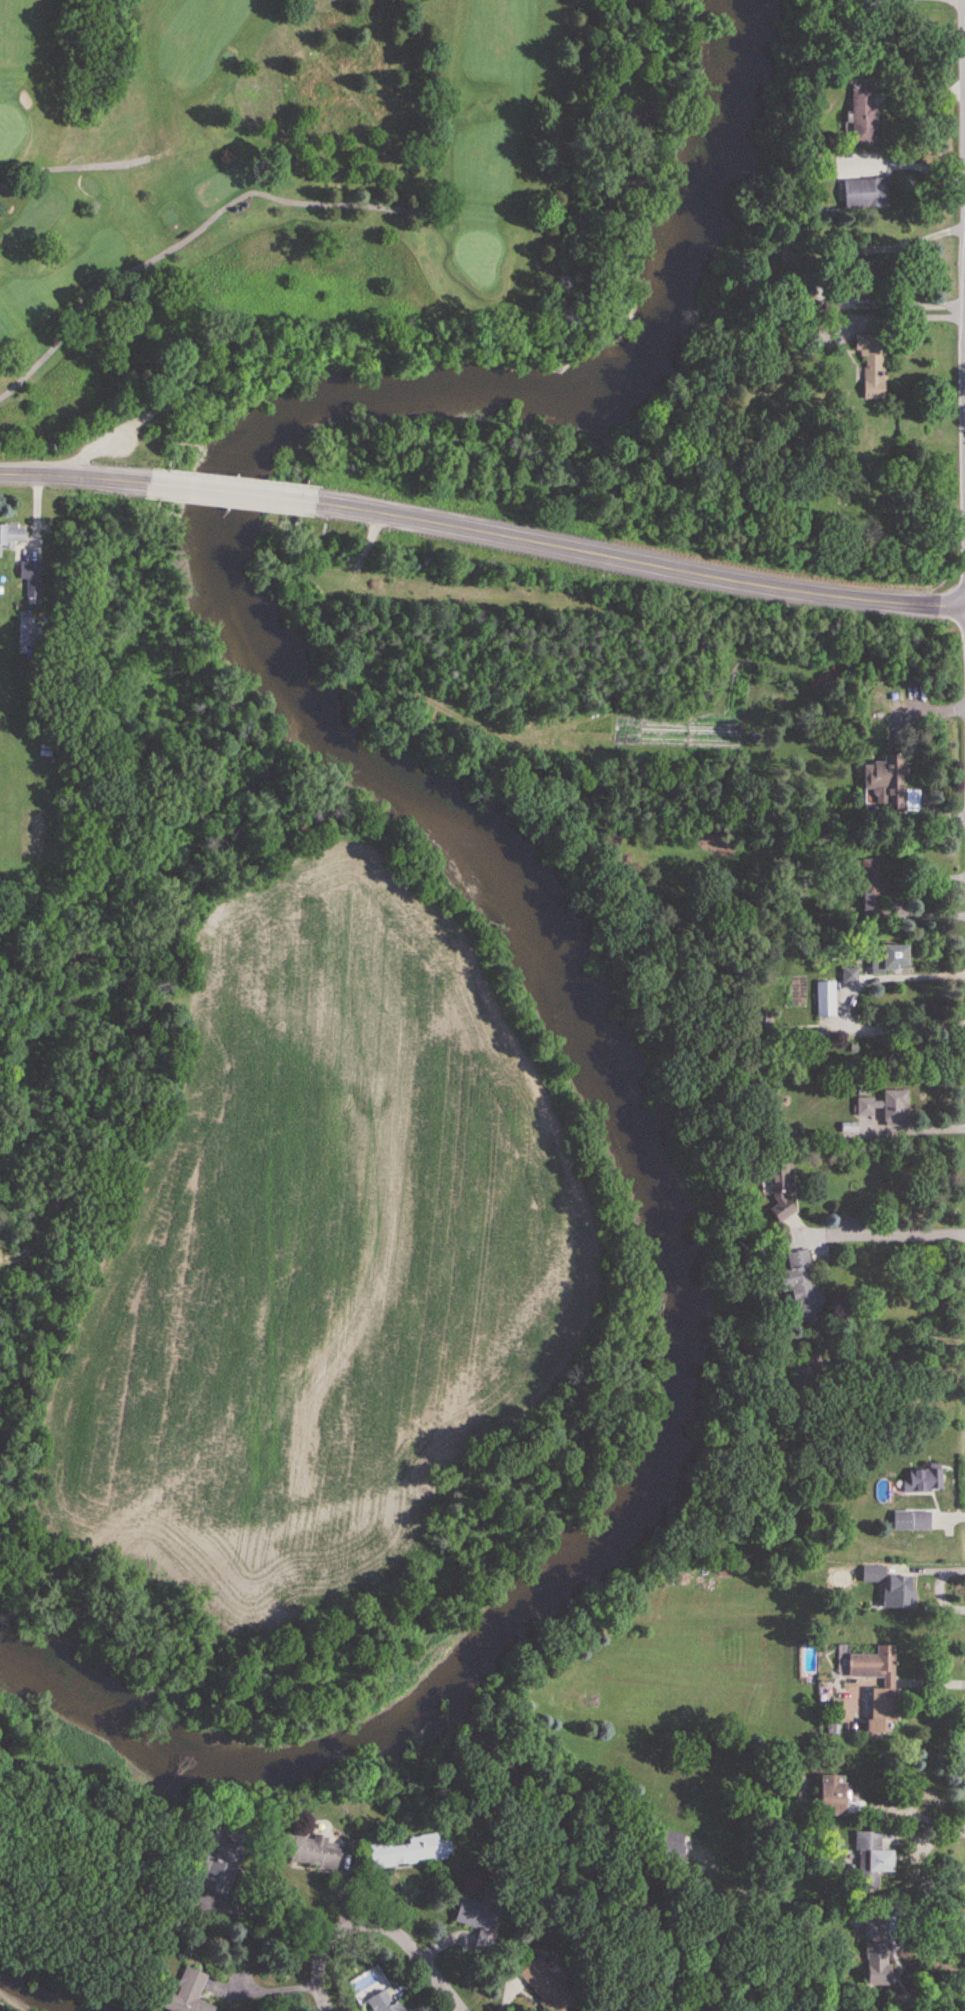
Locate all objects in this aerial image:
building: (861, 114)
road: (912, 159)
building: (865, 192)
park: (319, 196)
road: (842, 275)
building: (857, 289)
road: (898, 318)
building: (872, 364)
road: (79, 477)
road: (230, 491)
park: (868, 519)
building: (10, 535)
road: (632, 561)
building: (28, 580)
building: (23, 635)
building: (885, 783)
building: (612, 836)
building: (872, 885)
river: (520, 918)
building: (887, 958)
building: (826, 1000)
road: (849, 1006)
building: (887, 1108)
building: (780, 1190)
road: (886, 1234)
building: (801, 1286)
building: (923, 1481)
building: (911, 1522)
building: (892, 1586)
road: (933, 1682)
building: (881, 1704)
building: (830, 1793)
road: (912, 1812)
building: (309, 1850)
building: (409, 1850)
building: (668, 1850)
building: (871, 1858)
building: (225, 1861)
building: (472, 1912)
road: (382, 1926)
road: (926, 1927)
building: (880, 1964)
building: (546, 1984)
river: (29, 1993)
building: (187, 1994)
building: (383, 2002)

